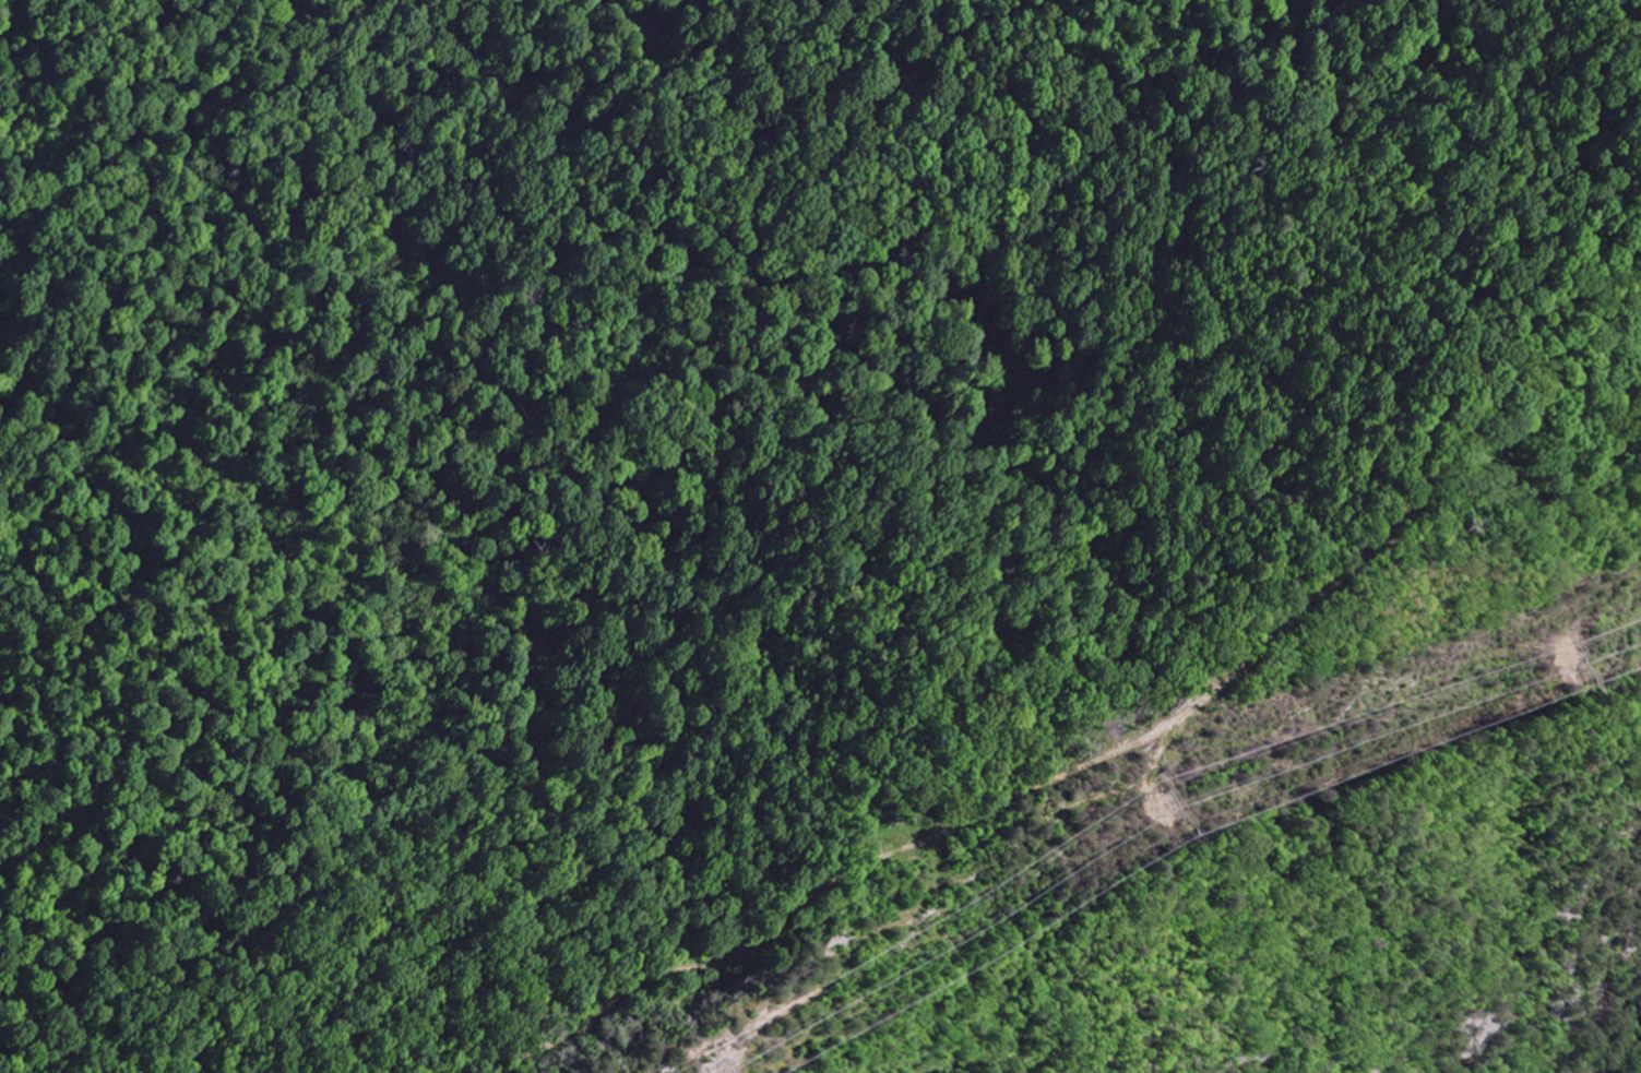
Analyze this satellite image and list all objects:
power tower: (1569, 655)
power tower: (1160, 801)
power tower: (730, 1069)

